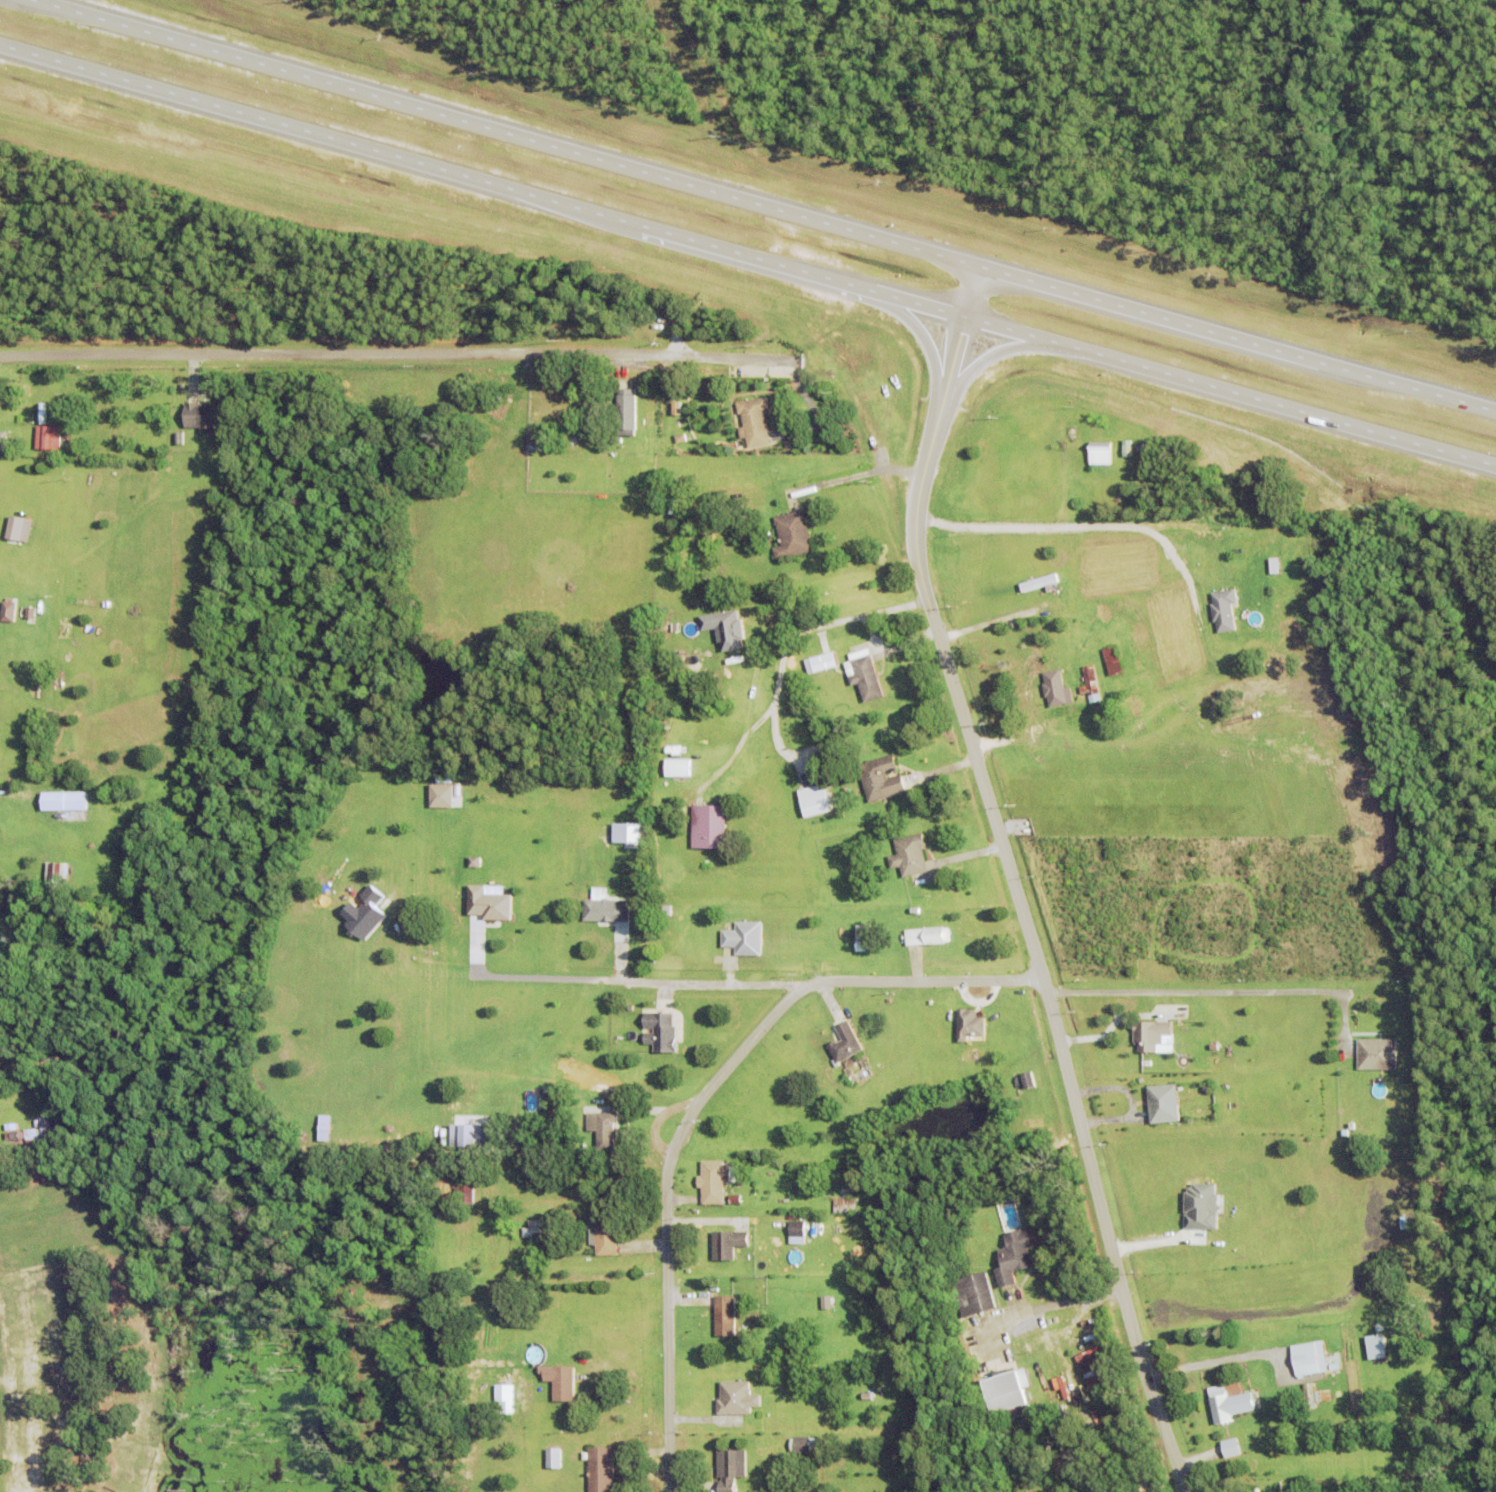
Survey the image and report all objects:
road: (763, 205)
road: (748, 256)
road: (424, 358)
building: (499, 407)
building: (626, 410)
building: (203, 413)
building: (754, 420)
building: (47, 435)
building: (3, 437)
building: (179, 437)
building: (680, 437)
building: (539, 441)
building: (10, 449)
building: (1100, 452)
building: (1098, 479)
building: (683, 503)
building: (672, 504)
building: (711, 504)
building: (681, 514)
building: (722, 518)
building: (15, 525)
road: (1076, 526)
building: (791, 533)
building: (1253, 542)
building: (1280, 578)
building: (1040, 581)
building: (8, 609)
building: (1223, 609)
road: (989, 619)
building: (722, 628)
road: (786, 637)
building: (1137, 652)
building: (1113, 659)
building: (822, 660)
building: (709, 670)
building: (866, 677)
building: (1090, 683)
building: (1056, 687)
building: (719, 699)
building: (657, 765)
building: (677, 766)
building: (880, 777)
building: (664, 786)
building: (442, 794)
building: (813, 799)
building: (63, 800)
building: (708, 825)
building: (624, 831)
building: (909, 854)
building: (627, 870)
building: (58, 871)
building: (639, 874)
road: (1013, 880)
building: (489, 902)
building: (598, 908)
building: (915, 909)
building: (927, 935)
building: (865, 936)
building: (744, 937)
building: (801, 945)
building: (662, 953)
road: (635, 988)
road: (1222, 992)
building: (997, 1015)
building: (969, 1023)
building: (658, 1030)
building: (1150, 1034)
building: (844, 1043)
building: (1378, 1054)
building: (1027, 1079)
building: (548, 1100)
road: (699, 1102)
building: (1163, 1103)
building: (11, 1126)
building: (324, 1127)
building: (603, 1128)
building: (47, 1129)
building: (13, 1135)
building: (467, 1135)
building: (33, 1136)
building: (31, 1147)
building: (712, 1181)
building: (467, 1195)
building: (581, 1197)
building: (735, 1198)
building: (845, 1205)
building: (1199, 1205)
building: (541, 1227)
building: (798, 1232)
building: (604, 1236)
building: (727, 1243)
building: (1015, 1255)
building: (973, 1295)
building: (827, 1301)
building: (749, 1304)
road: (1049, 1305)
building: (827, 1313)
building: (725, 1316)
building: (1375, 1346)
building: (1308, 1358)
building: (1091, 1369)
building: (560, 1381)
building: (1035, 1382)
building: (1007, 1393)
building: (1314, 1395)
building: (868, 1396)
building: (504, 1398)
building: (736, 1398)
building: (1221, 1404)
building: (803, 1445)
building: (1232, 1448)
building: (553, 1457)
building: (730, 1468)
building: (600, 1469)
building: (1415, 1486)
building: (1095, 1487)
building: (1289, 1490)

